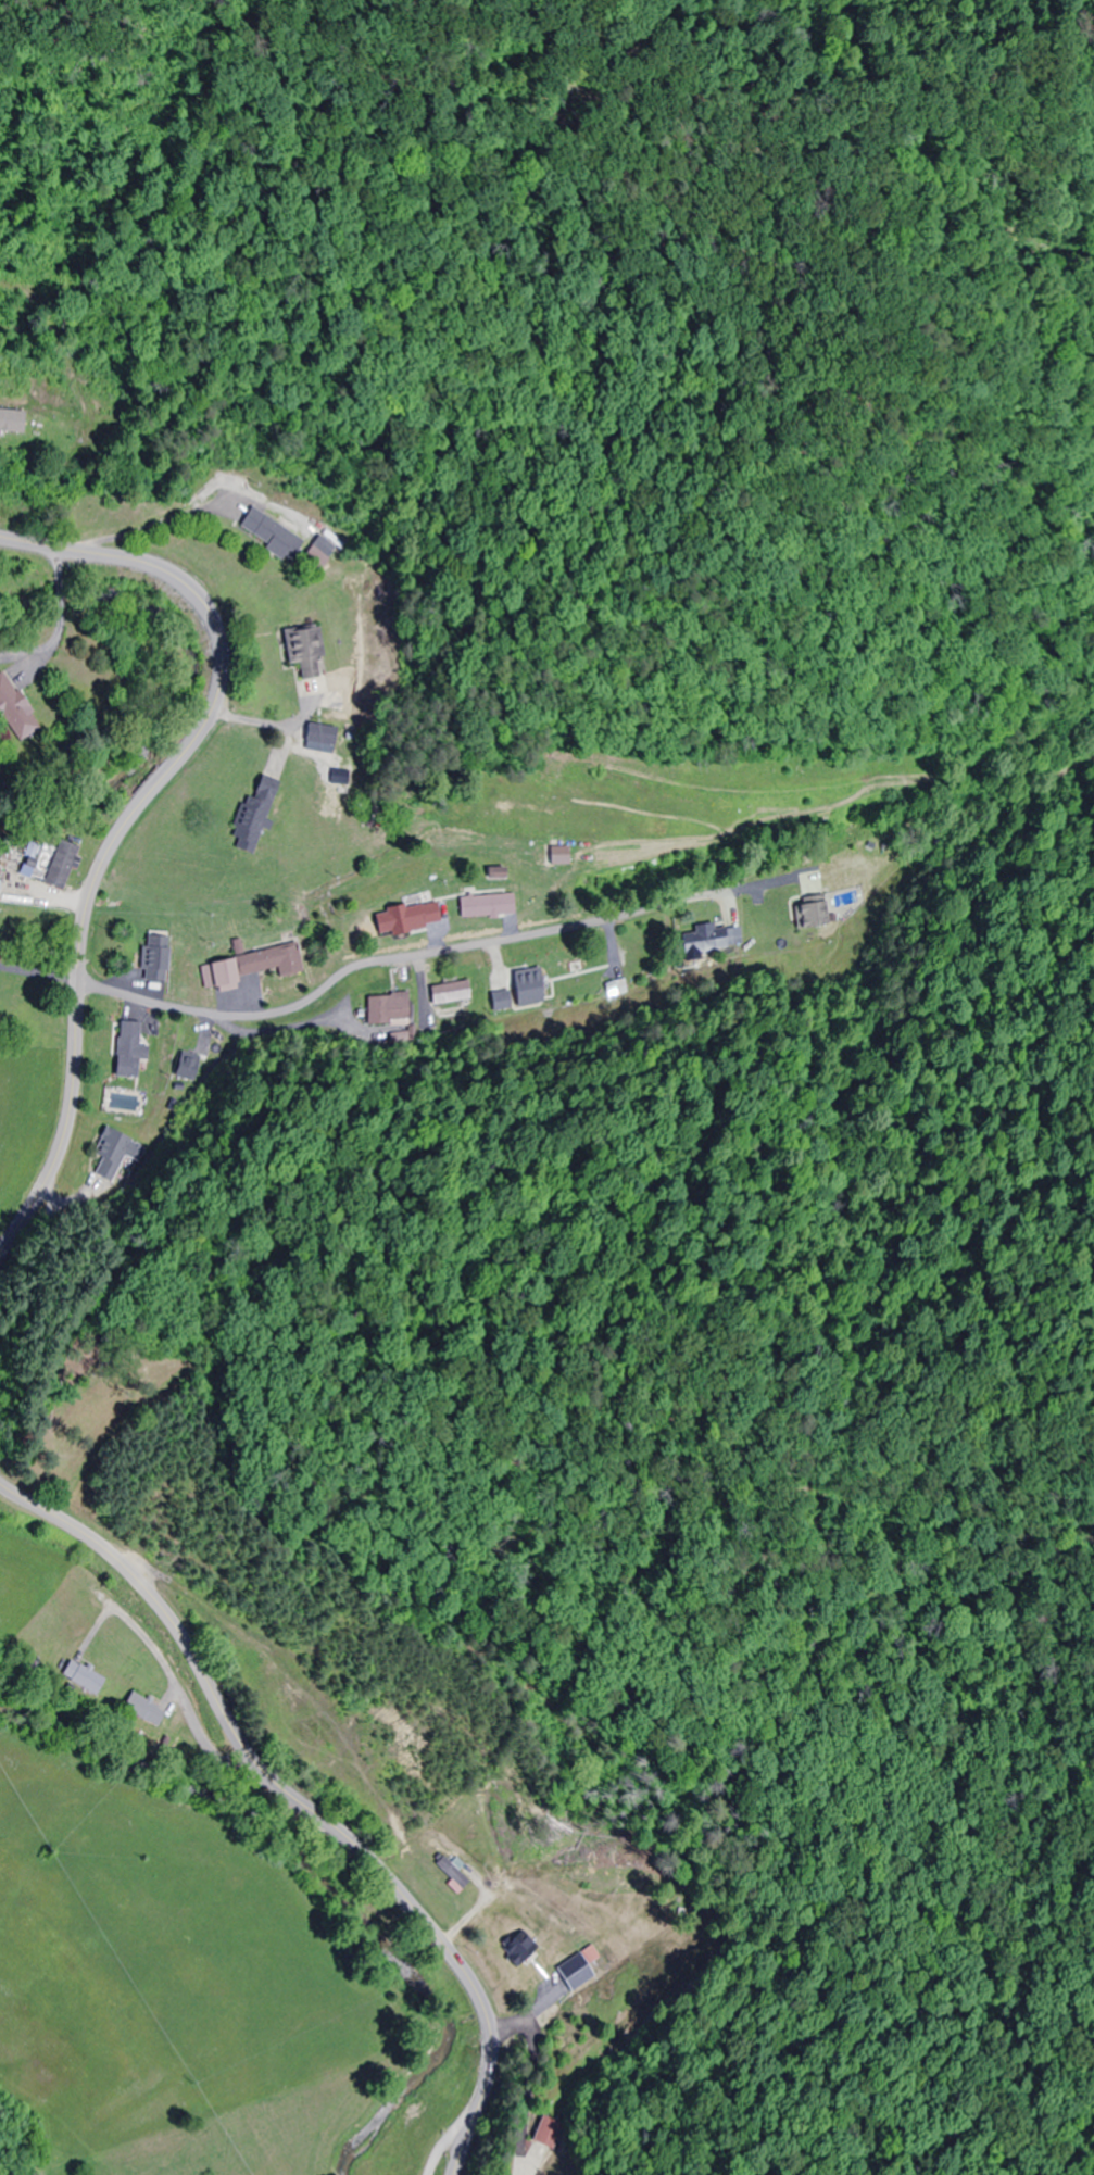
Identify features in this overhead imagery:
building: (5, 425)
building: (267, 532)
road: (60, 625)
building: (303, 650)
building: (14, 712)
road: (141, 778)
building: (260, 793)
road: (129, 819)
building: (49, 863)
building: (486, 906)
building: (809, 914)
building: (404, 918)
building: (705, 934)
road: (411, 956)
building: (153, 958)
building: (248, 967)
building: (576, 973)
building: (451, 993)
building: (389, 1011)
building: (127, 1051)
building: (112, 1154)
building: (81, 1676)
road: (178, 1688)
road: (719, 1689)
building: (143, 1709)
road: (301, 1802)
road: (151, 1857)
building: (449, 1872)
building: (516, 1948)
building: (565, 1992)
building: (546, 2134)

